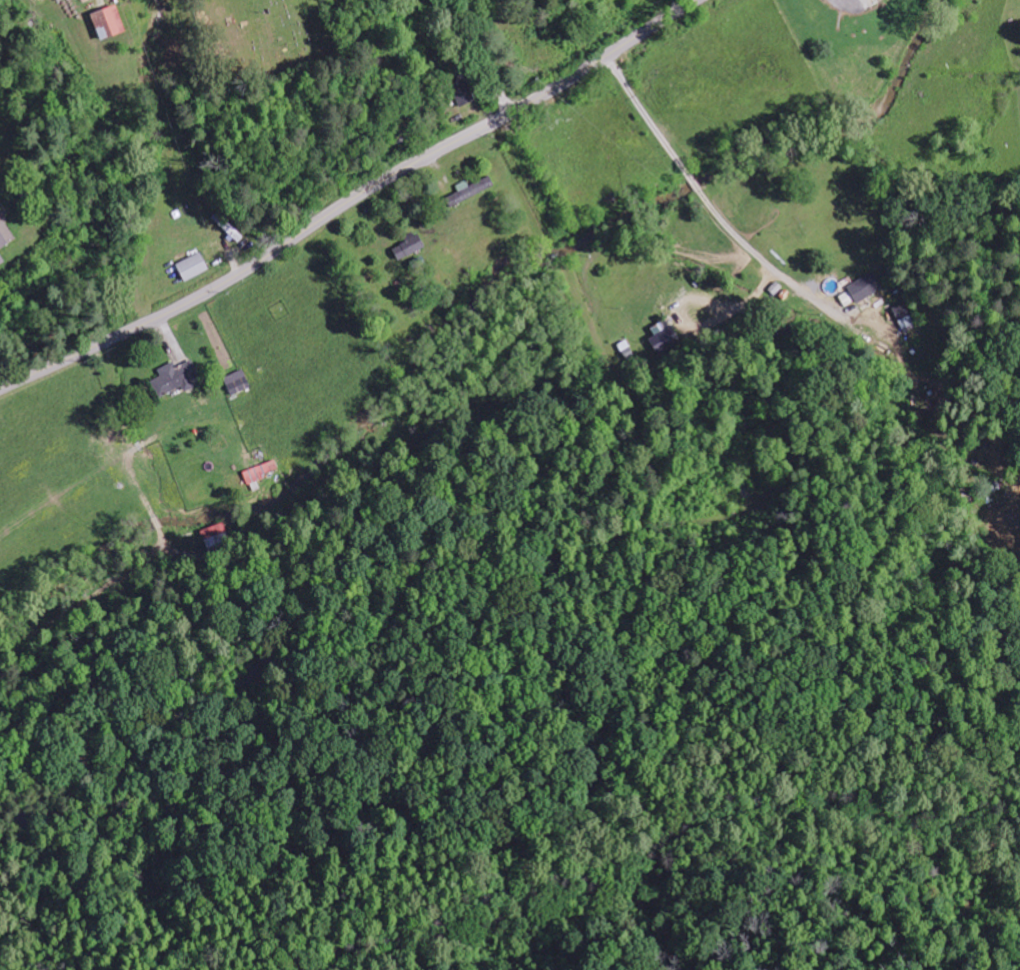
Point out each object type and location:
building: (108, 24)
park: (253, 40)
road: (481, 51)
building: (460, 91)
building: (466, 194)
road: (353, 202)
building: (5, 234)
building: (409, 247)
building: (1, 260)
building: (192, 266)
building: (861, 290)
building: (903, 315)
building: (175, 378)
building: (237, 383)
building: (261, 471)

